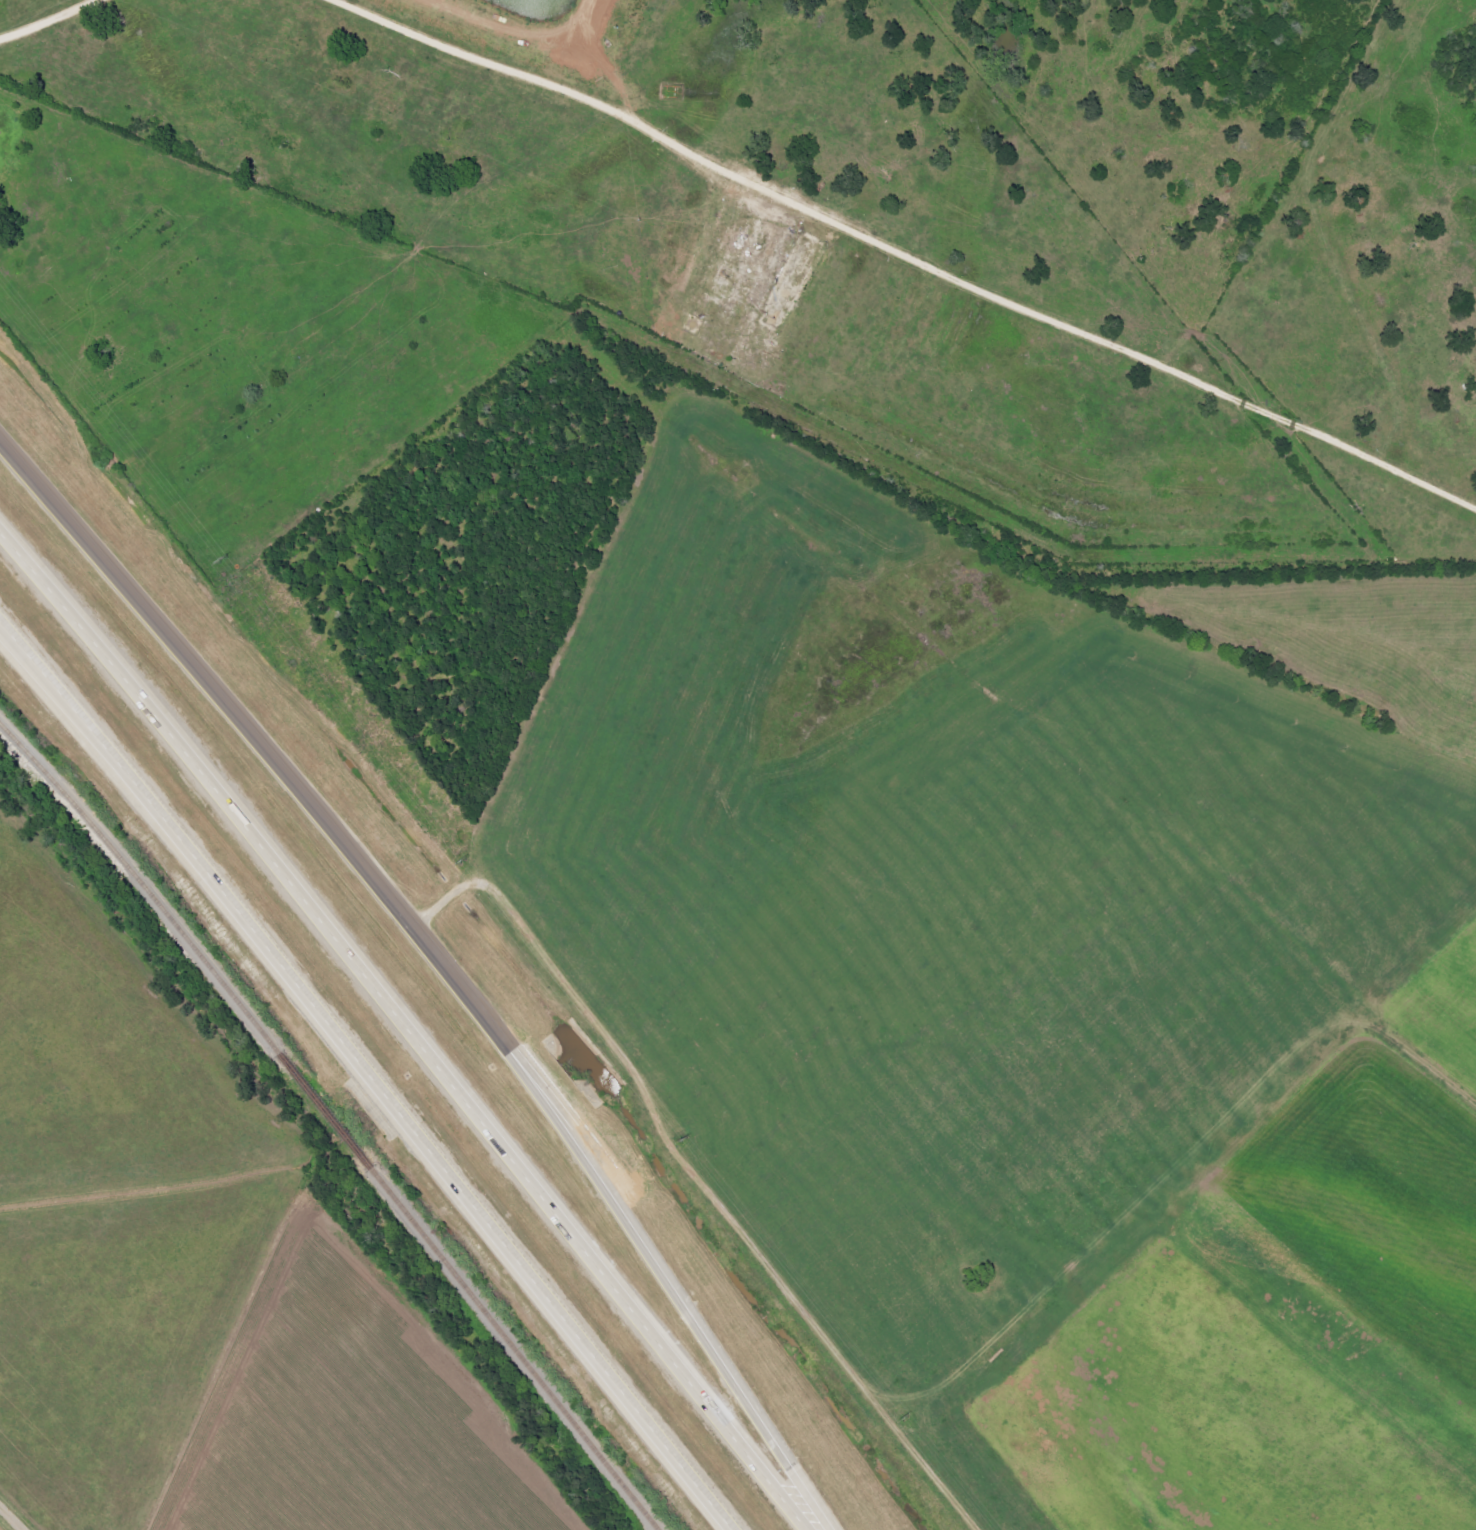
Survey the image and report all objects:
road: (48, 20)
road: (907, 246)
power tower: (216, 559)
railway: (28, 731)
road: (261, 753)
power tower: (472, 864)
road: (400, 1046)
road: (366, 1081)
railway: (334, 1121)
power tower: (685, 1141)
road: (678, 1297)
power tower: (907, 1417)
road: (11, 1518)

